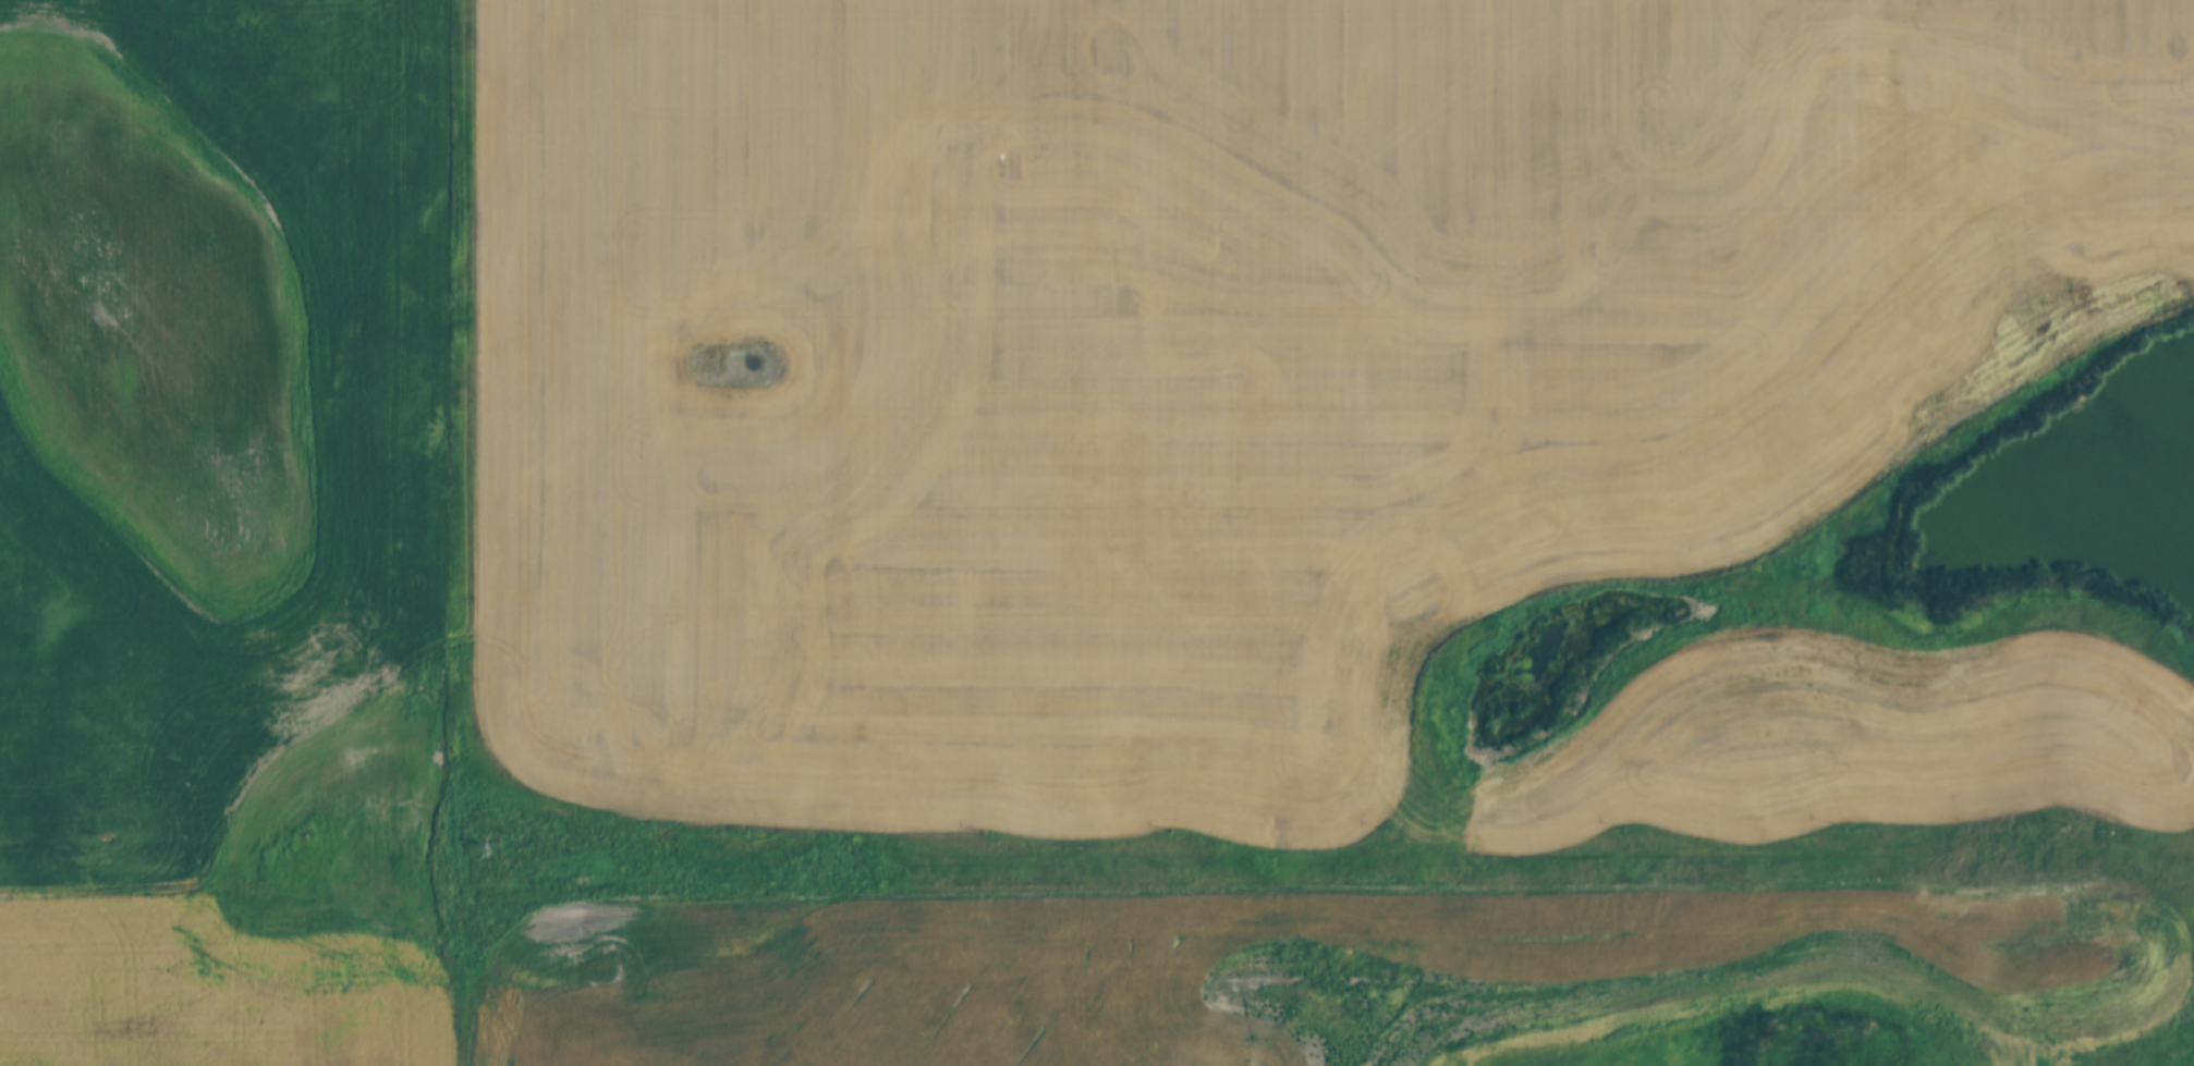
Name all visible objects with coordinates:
road: (473, 684)

